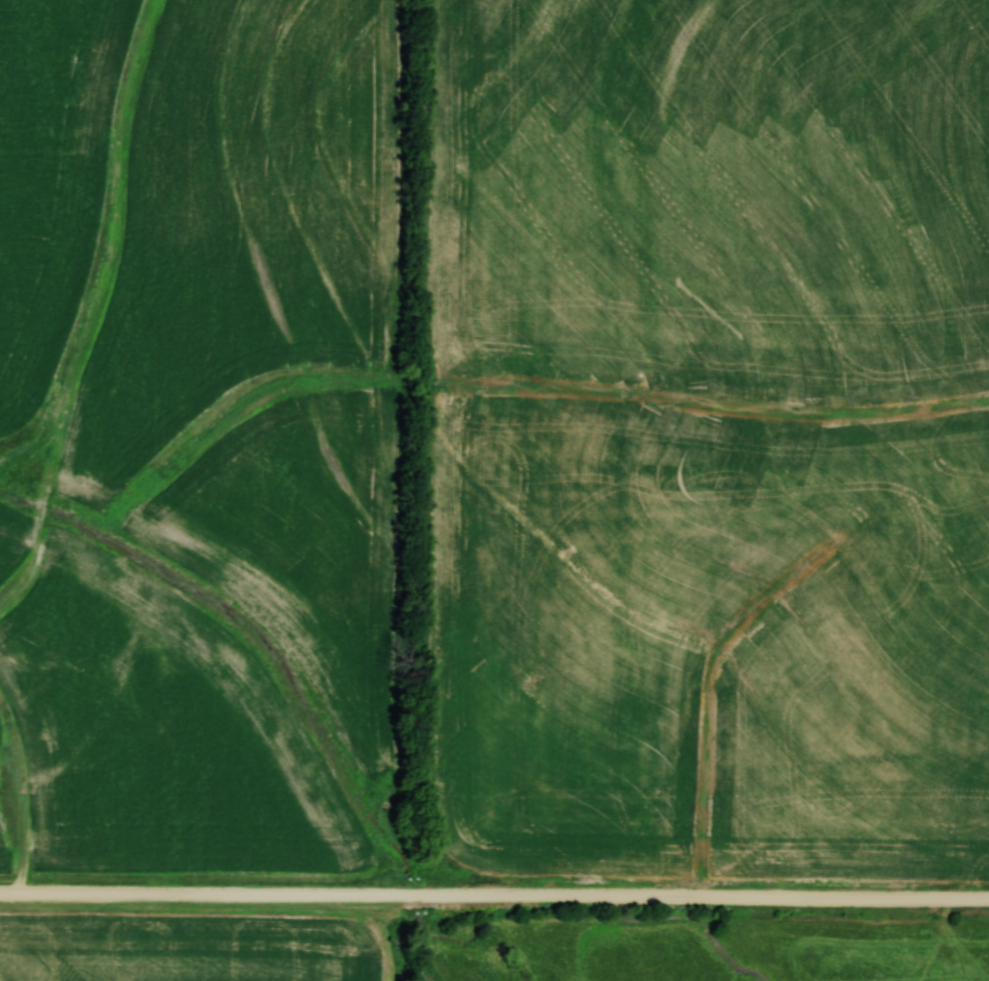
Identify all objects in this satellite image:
road: (494, 900)

